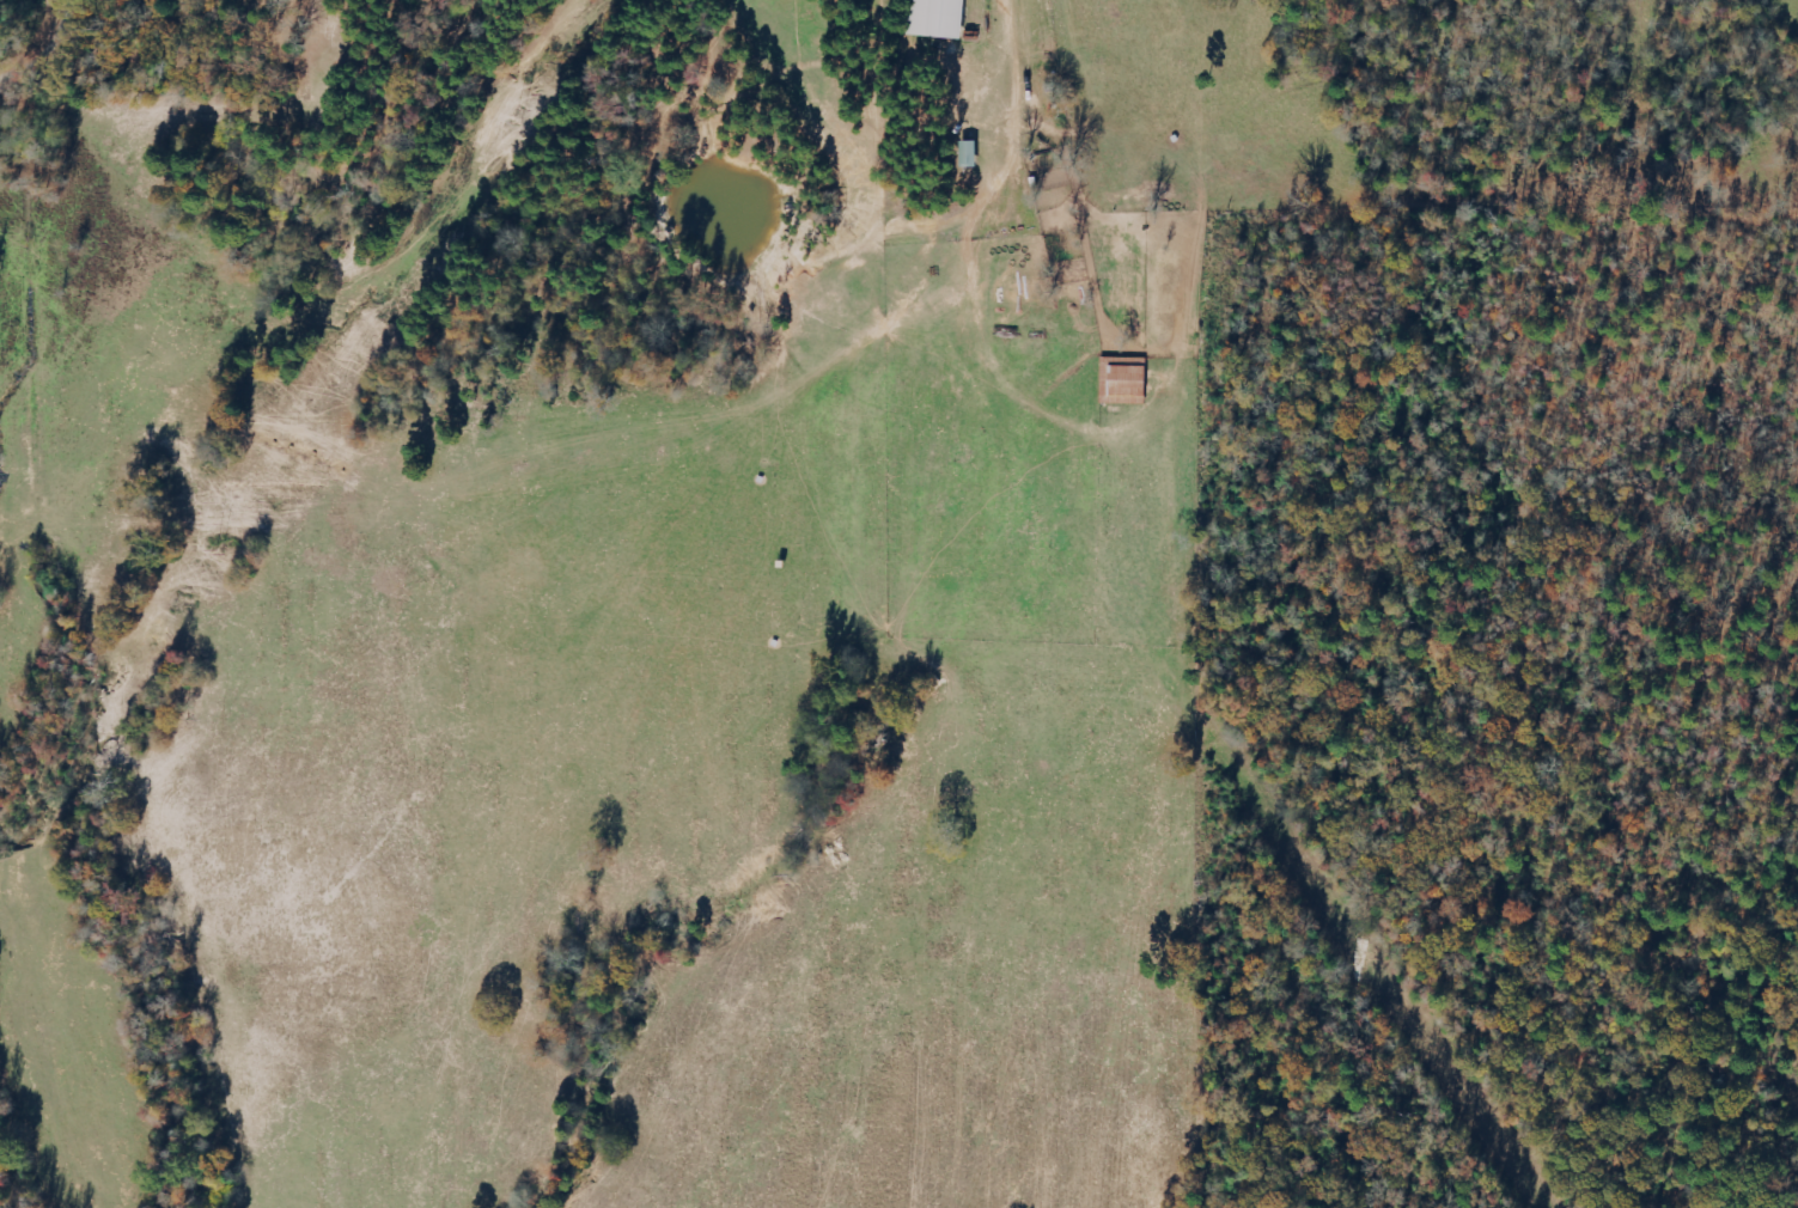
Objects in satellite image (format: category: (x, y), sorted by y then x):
building: (943, 18)
road: (49, 53)
power tower: (513, 127)
building: (974, 154)
building: (1126, 382)

